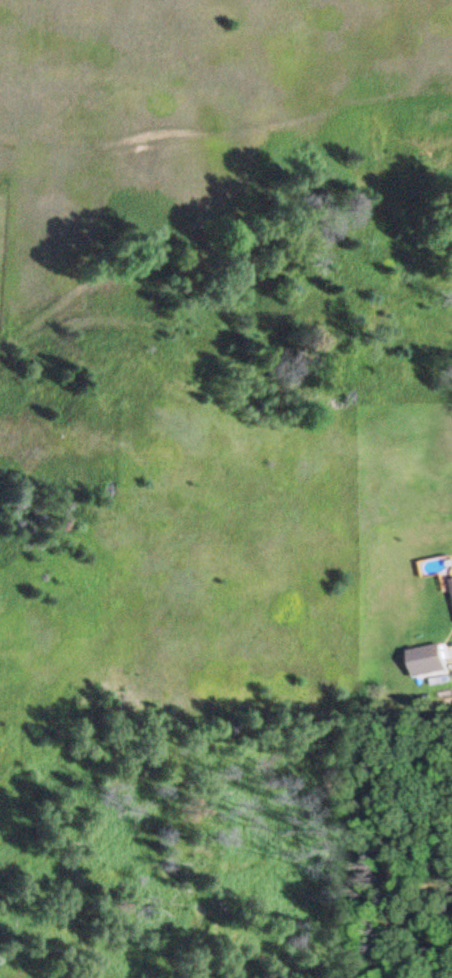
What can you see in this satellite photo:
building: (432, 662)

